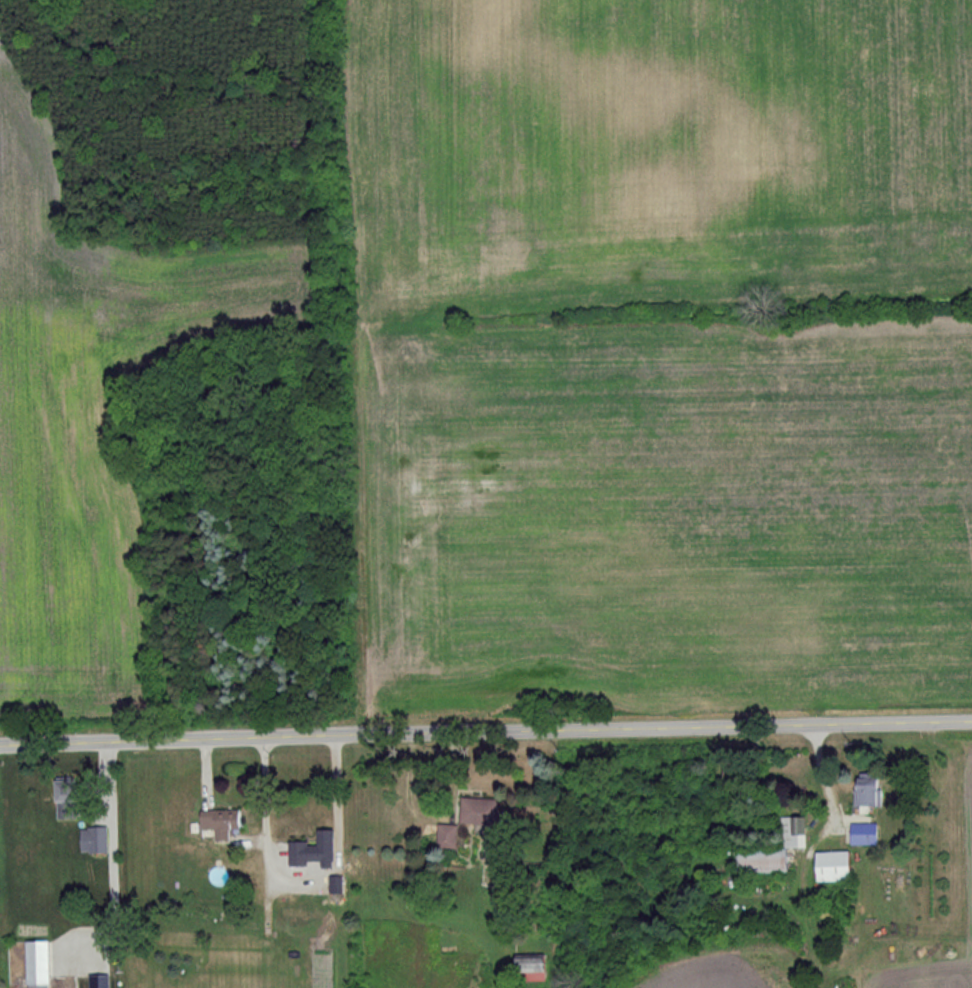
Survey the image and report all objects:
road: (486, 733)
building: (861, 794)
building: (476, 813)
building: (216, 824)
building: (861, 835)
building: (90, 840)
building: (318, 848)
building: (771, 851)
building: (828, 868)
road: (300, 883)
building: (81, 951)
building: (33, 964)

